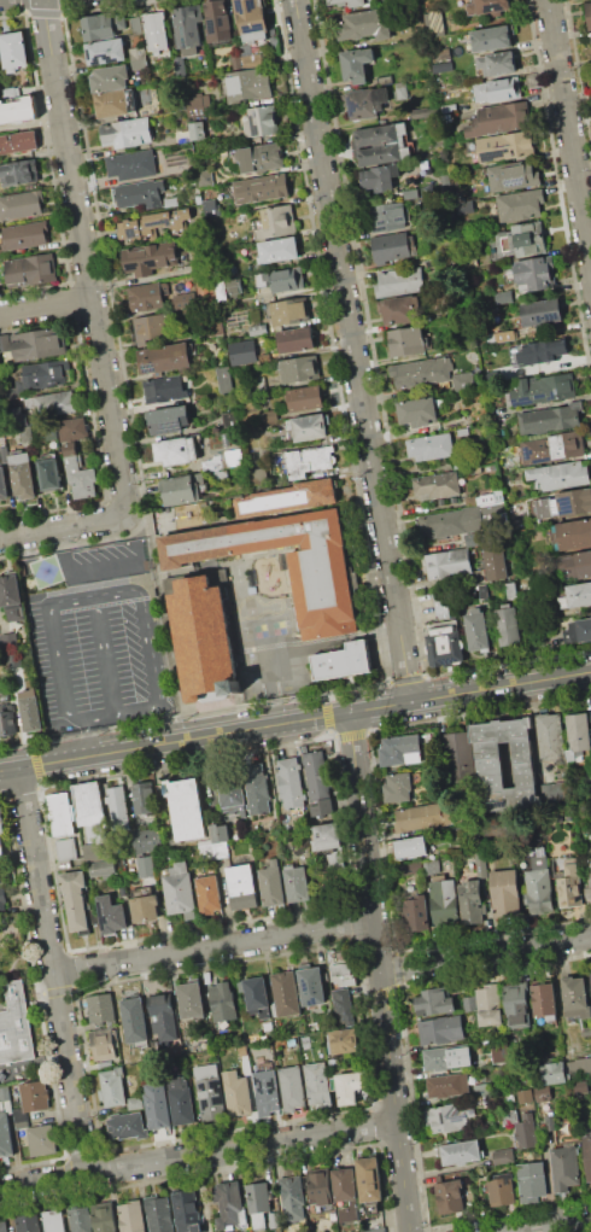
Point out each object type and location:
building: (357, 4)
building: (486, 6)
building: (589, 12)
building: (251, 18)
building: (220, 19)
building: (437, 21)
building: (136, 24)
building: (364, 25)
building: (99, 27)
building: (188, 28)
building: (156, 31)
building: (491, 37)
building: (590, 37)
building: (13, 49)
building: (105, 51)
building: (441, 53)
building: (139, 58)
building: (236, 60)
building: (252, 60)
building: (497, 63)
building: (357, 64)
building: (441, 66)
building: (179, 68)
building: (110, 77)
building: (247, 84)
building: (402, 89)
building: (498, 89)
building: (365, 101)
building: (116, 103)
building: (185, 104)
building: (17, 109)
building: (423, 111)
building: (499, 119)
building: (261, 121)
building: (198, 129)
road: (568, 132)
building: (127, 133)
building: (18, 141)
building: (382, 144)
building: (505, 146)
building: (259, 158)
building: (131, 165)
building: (18, 173)
building: (513, 176)
building: (205, 177)
building: (380, 177)
building: (261, 188)
building: (141, 193)
building: (410, 193)
building: (171, 202)
building: (21, 205)
building: (519, 205)
building: (464, 206)
building: (210, 208)
building: (387, 216)
building: (274, 222)
building: (153, 227)
building: (24, 235)
building: (521, 239)
building: (391, 246)
building: (276, 249)
road: (86, 257)
building: (150, 258)
building: (30, 269)
building: (533, 274)
building: (287, 279)
building: (398, 282)
building: (234, 286)
building: (221, 290)
building: (146, 302)
building: (182, 302)
road: (46, 304)
building: (460, 305)
building: (402, 309)
building: (291, 311)
building: (540, 311)
building: (213, 327)
building: (151, 328)
building: (257, 329)
building: (504, 335)
building: (295, 340)
building: (405, 340)
building: (5, 343)
building: (39, 344)
road: (352, 350)
building: (545, 351)
building: (164, 358)
building: (299, 369)
building: (421, 370)
building: (42, 374)
building: (224, 379)
building: (463, 380)
building: (0, 381)
building: (543, 389)
building: (0, 390)
building: (164, 390)
building: (305, 398)
building: (55, 403)
building: (417, 410)
building: (269, 415)
building: (550, 418)
building: (169, 419)
building: (229, 420)
building: (309, 426)
building: (65, 430)
building: (462, 432)
building: (25, 433)
building: (431, 446)
building: (554, 448)
building: (176, 450)
building: (308, 461)
building: (478, 468)
building: (49, 473)
building: (256, 473)
building: (78, 474)
building: (560, 474)
building: (22, 475)
building: (221, 475)
building: (2, 483)
building: (437, 485)
building: (179, 490)
building: (287, 498)
building: (470, 500)
building: (564, 503)
building: (493, 510)
building: (186, 514)
building: (451, 521)
road: (64, 526)
building: (574, 533)
building: (473, 539)
building: (495, 562)
building: (447, 564)
building: (577, 565)
building: (510, 589)
building: (10, 591)
building: (482, 591)
building: (577, 595)
road: (89, 596)
building: (323, 596)
building: (440, 603)
road: (107, 605)
road: (166, 618)
building: (508, 625)
building: (476, 630)
building: (579, 631)
building: (7, 638)
building: (444, 643)
building: (201, 646)
road: (109, 653)
building: (343, 660)
road: (275, 665)
road: (501, 685)
road: (379, 706)
building: (30, 710)
road: (123, 712)
road: (170, 722)
building: (7, 723)
building: (578, 735)
road: (89, 736)
building: (551, 737)
road: (174, 740)
building: (393, 751)
building: (458, 752)
building: (490, 765)
building: (292, 782)
building: (318, 783)
building: (397, 788)
building: (257, 789)
building: (556, 789)
building: (230, 792)
building: (144, 798)
building: (89, 802)
building: (117, 802)
building: (186, 808)
building: (62, 814)
building: (421, 817)
building: (1, 821)
building: (220, 831)
building: (328, 836)
building: (147, 839)
building: (409, 847)
building: (66, 848)
building: (213, 851)
building: (1, 852)
building: (333, 858)
building: (100, 859)
building: (479, 864)
building: (144, 865)
building: (431, 865)
building: (409, 868)
building: (0, 881)
building: (295, 882)
building: (271, 883)
building: (539, 884)
building: (242, 886)
building: (569, 887)
building: (589, 888)
building: (180, 889)
building: (207, 893)
building: (505, 893)
building: (2, 898)
building: (76, 899)
building: (441, 899)
building: (470, 901)
building: (145, 907)
building: (415, 912)
building: (111, 915)
road: (212, 947)
road: (484, 953)
building: (343, 967)
road: (53, 969)
road: (378, 971)
building: (312, 986)
building: (286, 993)
building: (256, 995)
building: (575, 997)
building: (192, 999)
building: (224, 1000)
building: (544, 1000)
building: (433, 1002)
building: (469, 1003)
building: (488, 1004)
building: (516, 1004)
building: (100, 1006)
building: (343, 1006)
building: (163, 1017)
building: (134, 1020)
building: (14, 1024)
building: (440, 1029)
building: (343, 1040)
building: (104, 1044)
building: (499, 1052)
building: (447, 1057)
building: (580, 1064)
building: (549, 1073)
building: (318, 1084)
building: (446, 1085)
building: (350, 1086)
building: (112, 1087)
building: (292, 1087)
building: (481, 1088)
building: (4, 1091)
building: (209, 1092)
building: (267, 1092)
building: (236, 1093)
building: (543, 1093)
building: (34, 1096)
building: (525, 1096)
building: (180, 1099)
building: (134, 1103)
building: (158, 1110)
building: (450, 1116)
building: (509, 1116)
building: (19, 1119)
building: (125, 1123)
building: (525, 1131)
building: (5, 1135)
building: (41, 1140)
building: (461, 1152)
road: (198, 1155)
building: (587, 1155)
building: (503, 1156)
building: (564, 1167)
building: (369, 1179)
building: (531, 1180)
building: (320, 1186)
building: (501, 1191)
building: (291, 1193)
building: (345, 1193)
building: (450, 1196)
building: (257, 1197)
building: (229, 1207)
building: (186, 1210)
building: (159, 1214)
building: (104, 1216)
building: (131, 1216)
building: (81, 1219)
building: (274, 1220)
building: (53, 1221)
building: (28, 1222)
building: (4, 1226)
road: (556, 1226)
building: (378, 1230)

